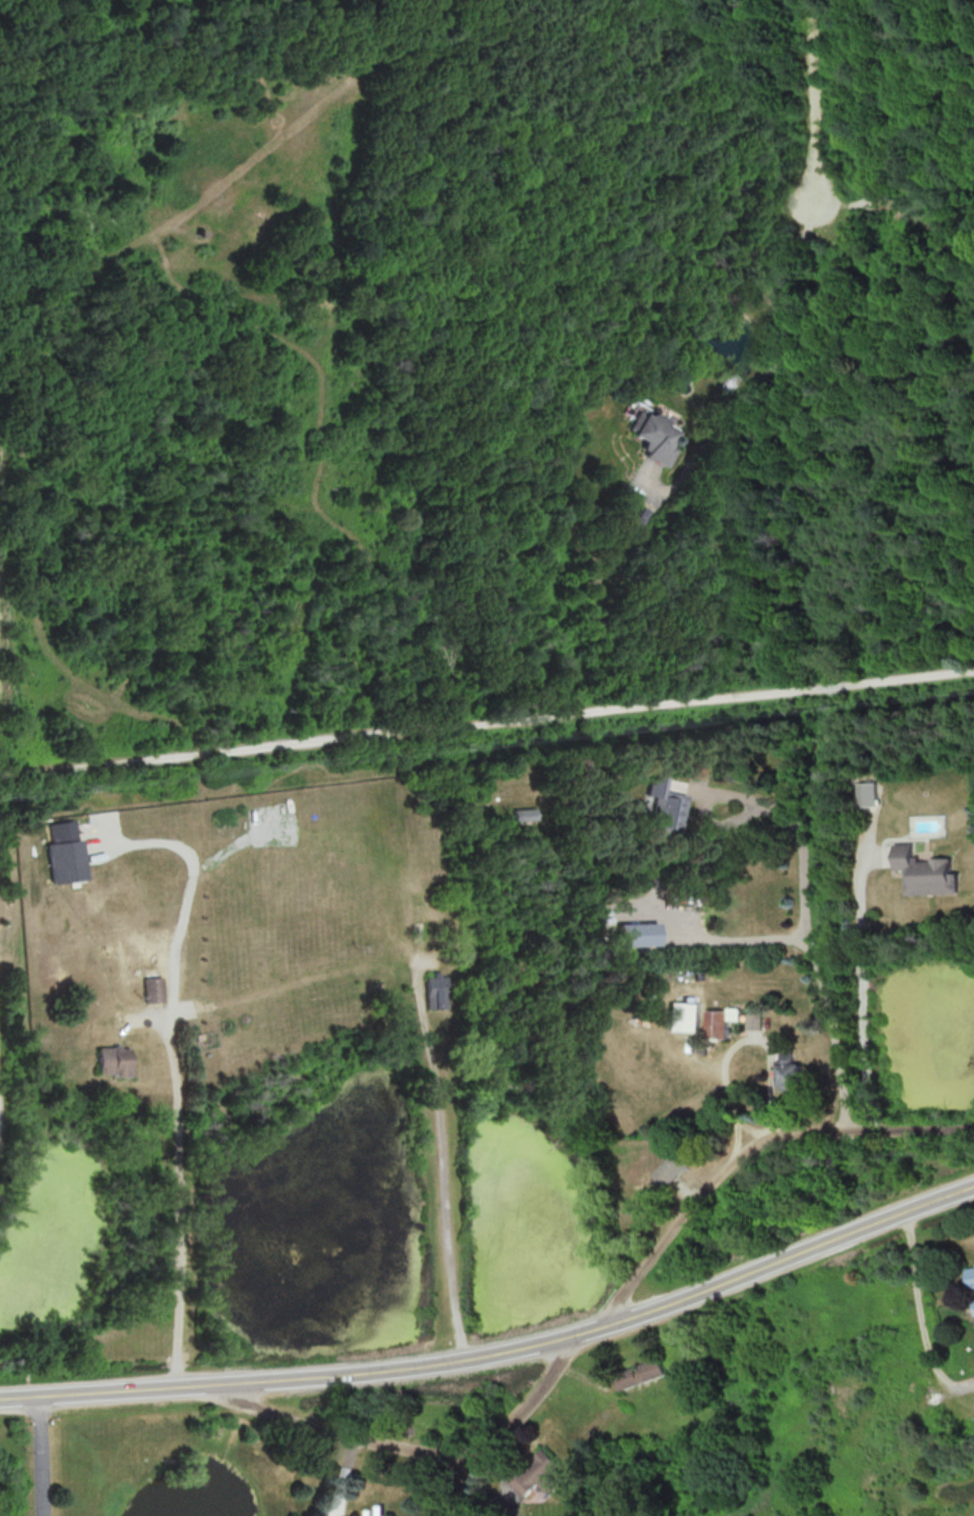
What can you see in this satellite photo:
road: (808, 117)
road: (772, 365)
building: (651, 435)
building: (638, 518)
park: (470, 719)
road: (486, 723)
building: (866, 794)
building: (664, 805)
building: (524, 814)
building: (63, 853)
building: (925, 872)
building: (637, 934)
road: (809, 949)
building: (152, 989)
building: (433, 991)
road: (859, 998)
building: (683, 1016)
building: (753, 1021)
building: (716, 1023)
road: (733, 1043)
building: (112, 1060)
building: (788, 1072)
road: (444, 1165)
building: (670, 1168)
road: (180, 1209)
road: (659, 1233)
building: (970, 1276)
road: (677, 1302)
building: (972, 1305)
road: (922, 1315)
building: (639, 1373)
road: (184, 1385)
road: (343, 1434)
road: (38, 1456)
building: (536, 1473)

